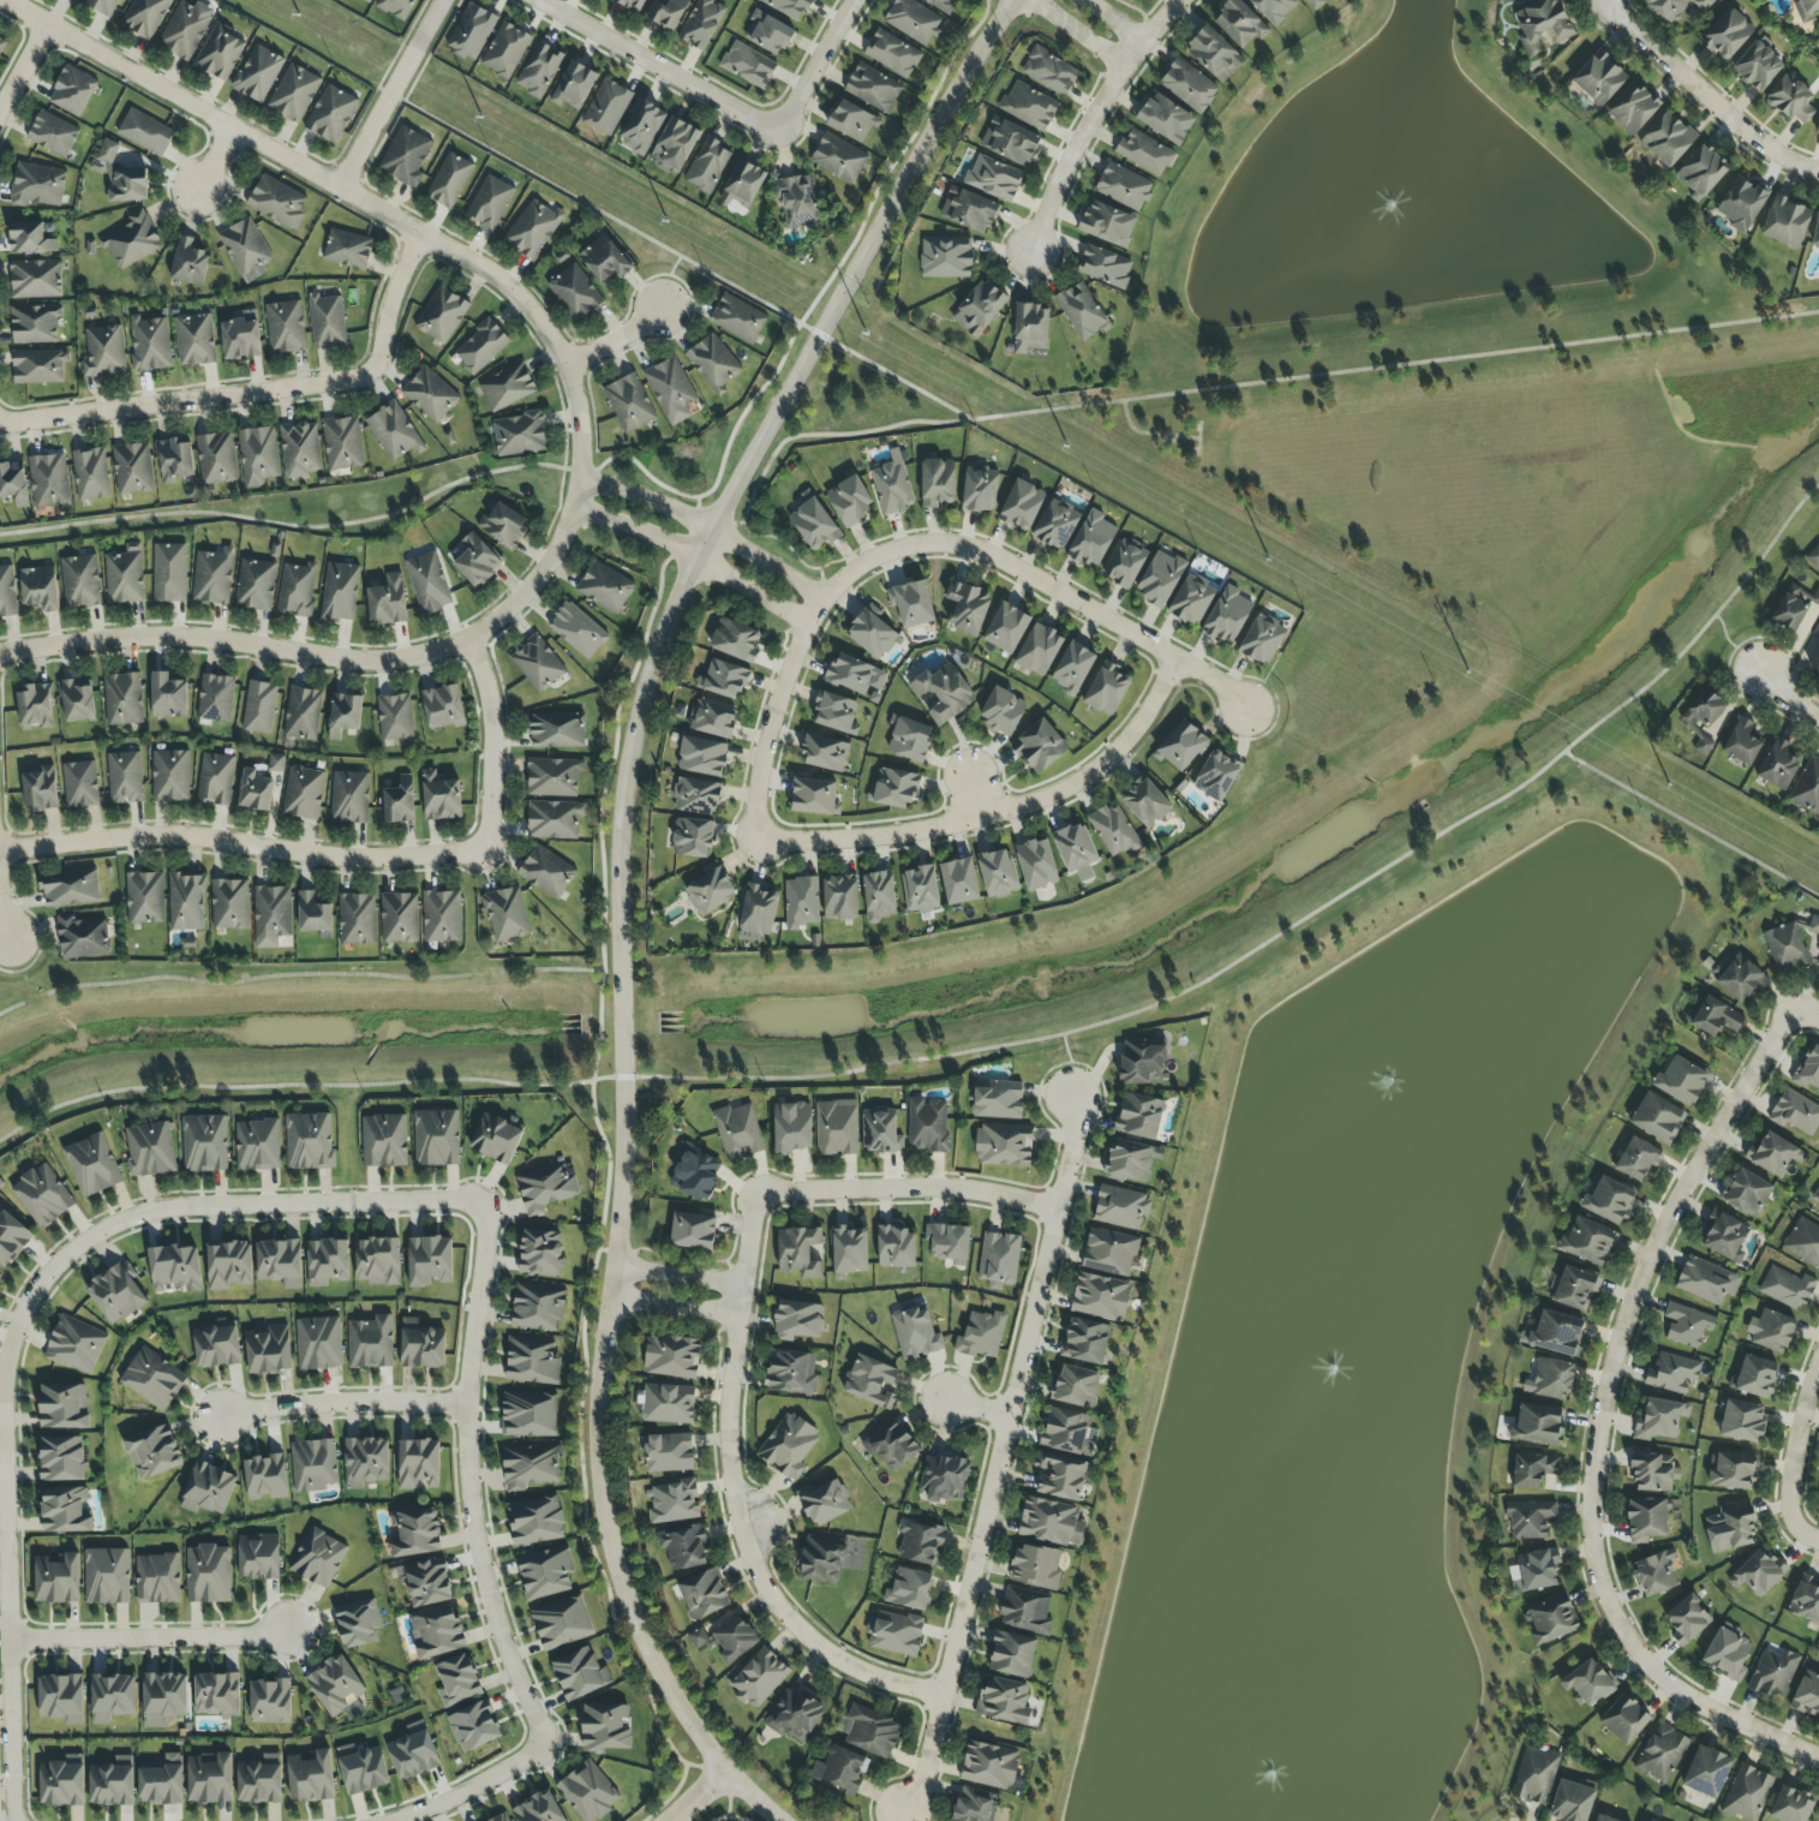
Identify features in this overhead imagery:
building: (1312, 4)
building: (632, 5)
building: (941, 5)
building: (102, 6)
building: (395, 7)
building: (789, 7)
building: (1675, 7)
building: (1274, 8)
building: (1806, 10)
building: (666, 13)
building: (144, 17)
road: (1114, 19)
building: (913, 20)
building: (1239, 23)
building: (702, 24)
building: (1543, 26)
building: (185, 29)
building: (471, 32)
road: (1075, 32)
building: (767, 34)
building: (1727, 35)
building: (1, 43)
building: (504, 50)
building: (219, 53)
building: (892, 54)
building: (1214, 54)
road: (22, 64)
building: (748, 65)
building: (1757, 66)
road: (653, 67)
road: (813, 67)
building: (539, 70)
building: (1049, 71)
building: (258, 73)
building: (1598, 78)
building: (574, 85)
building: (1189, 85)
building: (873, 88)
building: (72, 91)
building: (294, 92)
road: (385, 92)
road: (1705, 96)
building: (1793, 100)
building: (1029, 106)
building: (606, 107)
building: (1632, 109)
building: (330, 114)
road: (1089, 117)
building: (1166, 119)
building: (851, 120)
building: (641, 127)
building: (1817, 130)
building: (145, 132)
building: (53, 135)
building: (1668, 139)
building: (1010, 142)
building: (674, 147)
power tower: (535, 148)
building: (1144, 153)
building: (406, 156)
building: (838, 159)
road: (210, 161)
building: (707, 166)
building: (1701, 172)
building: (122, 177)
building: (993, 178)
building: (449, 180)
building: (37, 185)
building: (742, 185)
building: (1124, 186)
road: (348, 195)
building: (277, 202)
building: (798, 202)
building: (489, 203)
building: (1742, 204)
building: (968, 210)
fountain: (1390, 214)
building: (1785, 222)
building: (1107, 223)
building: (533, 228)
building: (1815, 234)
building: (29, 239)
building: (132, 240)
building: (245, 249)
building: (347, 250)
road: (676, 256)
building: (946, 257)
building: (605, 258)
building: (189, 262)
building: (1105, 267)
building: (35, 279)
building: (574, 292)
building: (979, 308)
road: (807, 309)
building: (1081, 311)
building: (441, 315)
building: (737, 318)
building: (327, 322)
building: (34, 323)
building: (285, 327)
building: (1030, 328)
building: (239, 335)
road: (612, 336)
building: (195, 340)
building: (150, 344)
power tower: (885, 345)
building: (481, 346)
building: (103, 352)
building: (713, 360)
building: (38, 366)
road: (1238, 386)
building: (507, 387)
road: (261, 388)
building: (670, 389)
building: (429, 394)
building: (629, 402)
building: (394, 431)
road: (1148, 434)
building: (519, 435)
road: (1197, 441)
building: (342, 443)
building: (300, 449)
building: (258, 455)
building: (216, 459)
building: (174, 460)
building: (132, 468)
building: (90, 474)
building: (48, 480)
building: (937, 482)
building: (13, 483)
building: (892, 485)
building: (980, 490)
building: (850, 498)
building: (1022, 506)
road: (702, 514)
building: (503, 525)
building: (814, 525)
building: (1055, 525)
road: (294, 526)
road: (702, 526)
building: (1091, 539)
power tower: (1239, 544)
road: (692, 555)
building: (1813, 556)
building: (477, 561)
building: (1124, 563)
building: (169, 573)
building: (124, 575)
building: (213, 577)
building: (1160, 579)
building: (79, 581)
building: (427, 583)
building: (255, 585)
building: (38, 587)
building: (604, 587)
building: (295, 590)
building: (339, 592)
building: (7, 593)
building: (1815, 598)
building: (387, 601)
building: (1191, 601)
building: (911, 603)
building: (967, 607)
building: (1791, 608)
road: (1085, 611)
building: (1227, 615)
building: (1006, 628)
building: (578, 631)
building: (872, 635)
building: (735, 640)
building: (1262, 640)
road: (1731, 645)
building: (1039, 650)
road: (335, 658)
road: (789, 661)
building: (1815, 662)
building: (537, 663)
building: (1072, 668)
building: (855, 675)
building: (723, 679)
building: (1106, 689)
building: (943, 694)
building: (168, 697)
building: (215, 698)
road: (1785, 698)
building: (122, 699)
building: (76, 701)
building: (35, 706)
building: (259, 707)
building: (443, 707)
building: (1704, 710)
building: (1001, 711)
building: (836, 712)
building: (303, 714)
building: (343, 715)
building: (395, 717)
building: (713, 718)
building: (556, 730)
building: (909, 739)
building: (1742, 742)
road: (491, 746)
building: (1040, 746)
building: (1181, 746)
power tower: (1593, 746)
building: (825, 752)
building: (701, 757)
building: (276, 763)
building: (1778, 764)
building: (170, 776)
building: (1216, 776)
building: (124, 777)
building: (552, 777)
building: (215, 780)
building: (79, 784)
building: (1807, 788)
building: (40, 789)
building: (893, 789)
building: (255, 790)
building: (303, 793)
road: (970, 793)
building: (349, 796)
building: (439, 796)
building: (696, 796)
building: (814, 796)
building: (399, 801)
building: (1144, 802)
road: (993, 812)
building: (554, 819)
road: (1691, 826)
building: (1113, 830)
building: (692, 837)
road: (241, 846)
building: (1076, 850)
building: (1036, 864)
building: (546, 872)
building: (998, 873)
building: (959, 882)
building: (70, 888)
road: (618, 889)
building: (920, 889)
building: (710, 890)
building: (879, 896)
building: (145, 897)
building: (839, 897)
building: (186, 902)
building: (801, 902)
building: (229, 904)
building: (756, 912)
building: (312, 913)
building: (505, 914)
building: (271, 915)
building: (441, 915)
building: (399, 918)
building: (357, 919)
road: (5, 923)
building: (1814, 925)
building: (83, 937)
building: (1785, 947)
road: (297, 975)
building: (1741, 979)
road: (1806, 1015)
building: (1713, 1017)
road: (999, 1047)
building: (1142, 1062)
fountain: (1444, 1064)
road: (1069, 1065)
building: (1808, 1070)
building: (1681, 1080)
building: (998, 1099)
building: (1796, 1114)
building: (1139, 1116)
building: (1658, 1118)
building: (928, 1124)
building: (791, 1128)
building: (836, 1128)
building: (738, 1132)
building: (880, 1132)
building: (436, 1138)
building: (495, 1139)
building: (309, 1141)
building: (384, 1141)
building: (204, 1144)
building: (257, 1145)
building: (1004, 1146)
building: (150, 1150)
building: (1773, 1154)
building: (1636, 1159)
building: (1130, 1162)
building: (91, 1165)
road: (605, 1174)
building: (695, 1174)
building: (546, 1187)
road: (904, 1189)
building: (1747, 1194)
building: (42, 1195)
building: (1815, 1196)
building: (1608, 1200)
building: (1120, 1207)
building: (692, 1231)
building: (1724, 1237)
building: (11, 1238)
building: (1588, 1241)
building: (1803, 1242)
building: (949, 1243)
building: (894, 1247)
road: (605, 1250)
building: (849, 1250)
building: (798, 1252)
building: (1109, 1252)
building: (540, 1253)
building: (999, 1258)
building: (429, 1260)
building: (327, 1261)
building: (377, 1261)
building: (280, 1262)
building: (228, 1265)
building: (175, 1267)
building: (0, 1274)
road: (676, 1274)
building: (1706, 1282)
building: (1787, 1288)
building: (1574, 1289)
building: (115, 1294)
building: (1100, 1296)
building: (537, 1307)
road: (671, 1307)
road: (20, 1320)
building: (797, 1320)
building: (1687, 1325)
building: (1771, 1331)
building: (1554, 1332)
building: (981, 1335)
building: (1085, 1342)
building: (318, 1343)
building: (370, 1343)
building: (74, 1344)
building: (421, 1345)
building: (216, 1347)
building: (268, 1350)
building: (671, 1356)
building: (532, 1361)
fountain: (1340, 1368)
building: (791, 1372)
building: (1673, 1374)
building: (1755, 1377)
building: (152, 1379)
building: (1550, 1380)
building: (870, 1383)
building: (1076, 1386)
road: (341, 1404)
building: (668, 1404)
building: (64, 1407)
road: (975, 1410)
building: (528, 1414)
road: (1598, 1420)
building: (1659, 1420)
building: (1742, 1421)
building: (1539, 1425)
building: (1066, 1432)
building: (788, 1445)
building: (891, 1446)
road: (1797, 1451)
building: (152, 1452)
building: (669, 1452)
road: (997, 1456)
building: (61, 1458)
building: (365, 1462)
building: (417, 1464)
building: (313, 1465)
building: (529, 1467)
building: (1533, 1469)
building: (1653, 1471)
building: (1734, 1471)
building: (1060, 1476)
building: (265, 1477)
building: (944, 1477)
road: (468, 1481)
building: (208, 1489)
road: (736, 1498)
building: (672, 1501)
building: (824, 1501)
building: (65, 1510)
building: (1530, 1520)
building: (1647, 1520)
building: (534, 1521)
building: (1051, 1522)
building: (1730, 1527)
building: (415, 1533)
road: (1811, 1539)
building: (921, 1542)
building: (683, 1548)
building: (258, 1557)
building: (830, 1557)
building: (318, 1558)
building: (1036, 1566)
building: (1532, 1571)
building: (545, 1572)
building: (1656, 1572)
building: (1758, 1572)
building: (208, 1574)
building: (107, 1576)
building: (157, 1578)
building: (56, 1580)
building: (424, 1582)
building: (910, 1589)
building: (704, 1594)
building: (1806, 1600)
building: (1025, 1610)
building: (1687, 1619)
building: (1551, 1620)
building: (358, 1623)
building: (562, 1623)
building: (437, 1632)
building: (894, 1634)
building: (725, 1640)
road: (151, 1641)
building: (1012, 1654)
building: (1727, 1654)
building: (580, 1673)
building: (1773, 1673)
building: (759, 1678)
building: (456, 1680)
building: (1587, 1683)
building: (335, 1685)
building: (216, 1695)
building: (1807, 1695)
building: (112, 1697)
building: (61, 1698)
building: (163, 1698)
building: (269, 1701)
building: (1004, 1701)
building: (794, 1716)
building: (1624, 1719)
building: (473, 1726)
building: (606, 1727)
building: (872, 1731)
building: (413, 1753)
building: (1662, 1754)
building: (989, 1766)
building: (361, 1769)
building: (840, 1769)
building: (1706, 1772)
fountain: (1253, 1773)
building: (1534, 1775)
building: (209, 1778)
building: (310, 1778)
building: (259, 1780)
building: (62, 1781)
building: (161, 1781)
building: (112, 1783)
road: (471, 1785)
building: (588, 1792)
building: (1747, 1793)
road: (698, 1796)
building: (1572, 1802)
building: (974, 1805)
building: (1791, 1805)
building: (538, 1809)
building: (501, 1817)
building: (1603, 1819)

